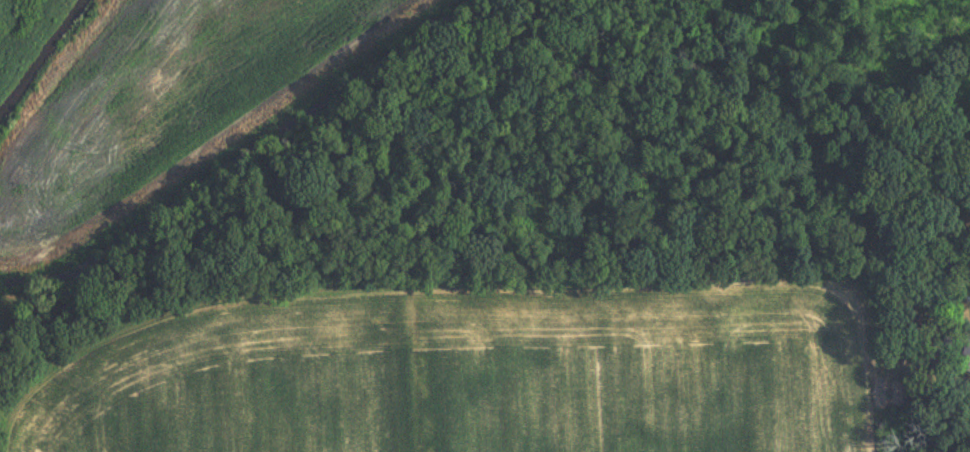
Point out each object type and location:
building: (967, 365)

